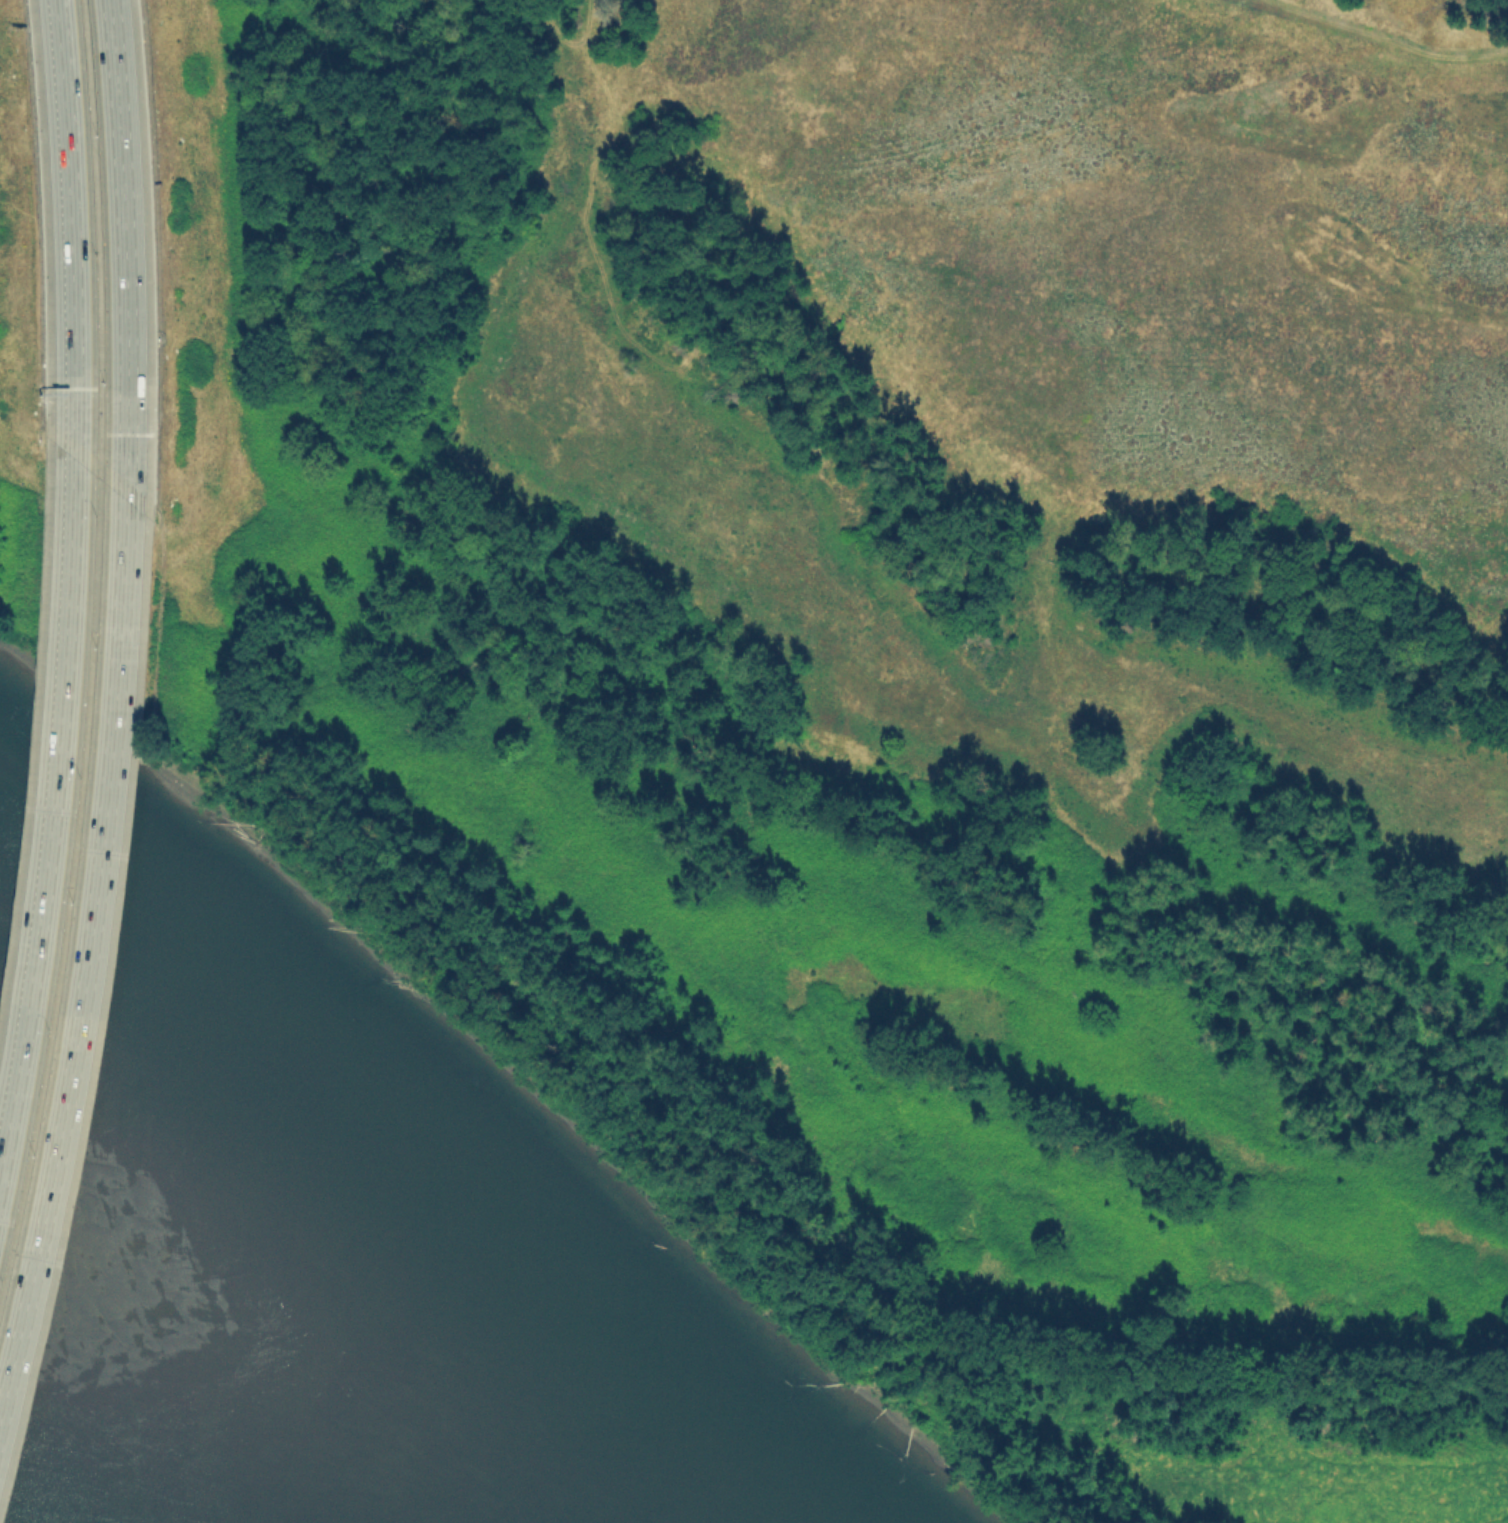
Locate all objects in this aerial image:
road: (78, 231)
road: (96, 238)
road: (115, 245)
road: (56, 836)
road: (68, 889)
road: (81, 939)

